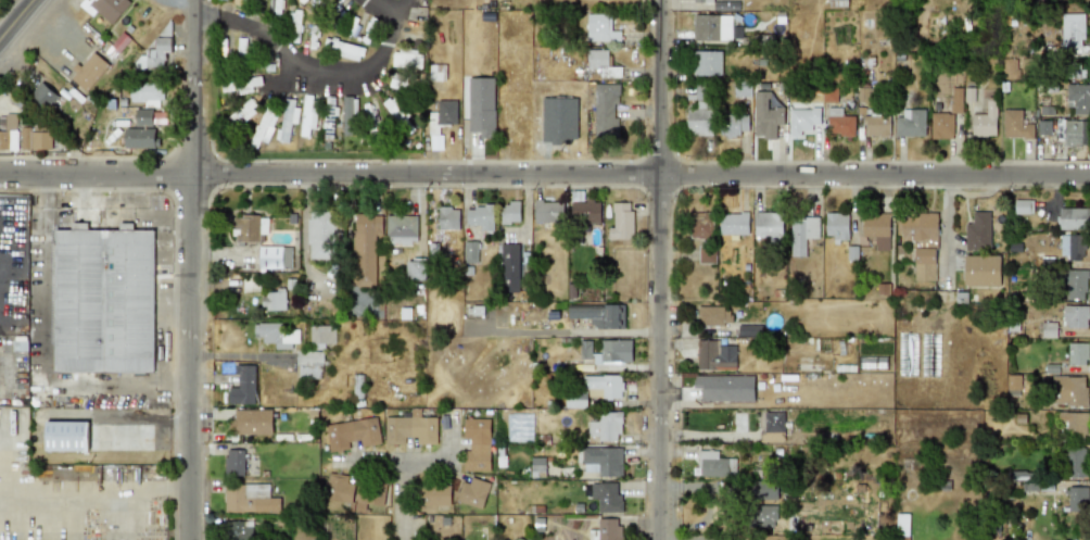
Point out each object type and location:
building: (702, 1)
building: (239, 2)
road: (169, 3)
building: (837, 3)
building: (726, 5)
road: (398, 8)
building: (105, 9)
road: (14, 18)
road: (242, 23)
building: (295, 26)
building: (712, 27)
building: (599, 28)
building: (1074, 35)
building: (241, 46)
road: (137, 51)
building: (153, 55)
building: (407, 59)
building: (597, 59)
building: (707, 63)
building: (88, 70)
building: (1070, 70)
building: (436, 73)
road: (364, 74)
building: (400, 83)
building: (241, 84)
building: (742, 89)
building: (145, 93)
building: (968, 93)
building: (45, 97)
building: (956, 99)
building: (1078, 99)
building: (243, 111)
building: (606, 111)
building: (308, 114)
building: (699, 114)
building: (400, 115)
building: (348, 116)
building: (442, 116)
building: (287, 120)
building: (766, 120)
building: (802, 120)
building: (985, 120)
building: (839, 123)
building: (910, 123)
building: (876, 125)
building: (941, 125)
building: (1016, 125)
building: (264, 126)
building: (734, 126)
building: (1042, 127)
building: (141, 130)
building: (1074, 131)
building: (10, 133)
building: (38, 138)
road: (544, 175)
building: (1024, 206)
building: (584, 209)
building: (547, 211)
building: (510, 212)
road: (1, 215)
building: (447, 217)
building: (480, 217)
building: (1074, 218)
building: (619, 219)
building: (734, 223)
building: (701, 225)
building: (768, 225)
building: (836, 227)
building: (250, 228)
building: (402, 229)
building: (876, 229)
building: (977, 230)
building: (320, 235)
building: (803, 235)
building: (922, 243)
building: (1077, 247)
building: (365, 250)
building: (471, 251)
building: (706, 254)
building: (275, 258)
building: (511, 267)
road: (191, 269)
road: (656, 269)
building: (415, 271)
building: (981, 271)
building: (1073, 284)
building: (274, 299)
building: (107, 302)
building: (364, 302)
building: (600, 315)
building: (713, 315)
building: (1076, 315)
building: (747, 329)
road: (561, 331)
building: (277, 335)
building: (321, 337)
road: (46, 346)
building: (607, 351)
building: (1078, 353)
building: (715, 355)
building: (309, 359)
road: (3, 374)
building: (1012, 385)
building: (242, 386)
building: (357, 386)
building: (603, 386)
building: (1070, 390)
building: (250, 422)
building: (607, 426)
building: (772, 426)
building: (1072, 426)
building: (410, 428)
building: (352, 434)
building: (100, 437)
building: (477, 444)
building: (603, 461)
building: (233, 462)
building: (1075, 462)
building: (714, 464)
road: (401, 468)
building: (339, 487)
road: (86, 489)
building: (763, 489)
building: (473, 492)
building: (370, 493)
building: (433, 494)
building: (610, 497)
building: (1076, 498)
building: (250, 499)
building: (763, 515)
building: (902, 527)
building: (239, 529)
building: (607, 529)

